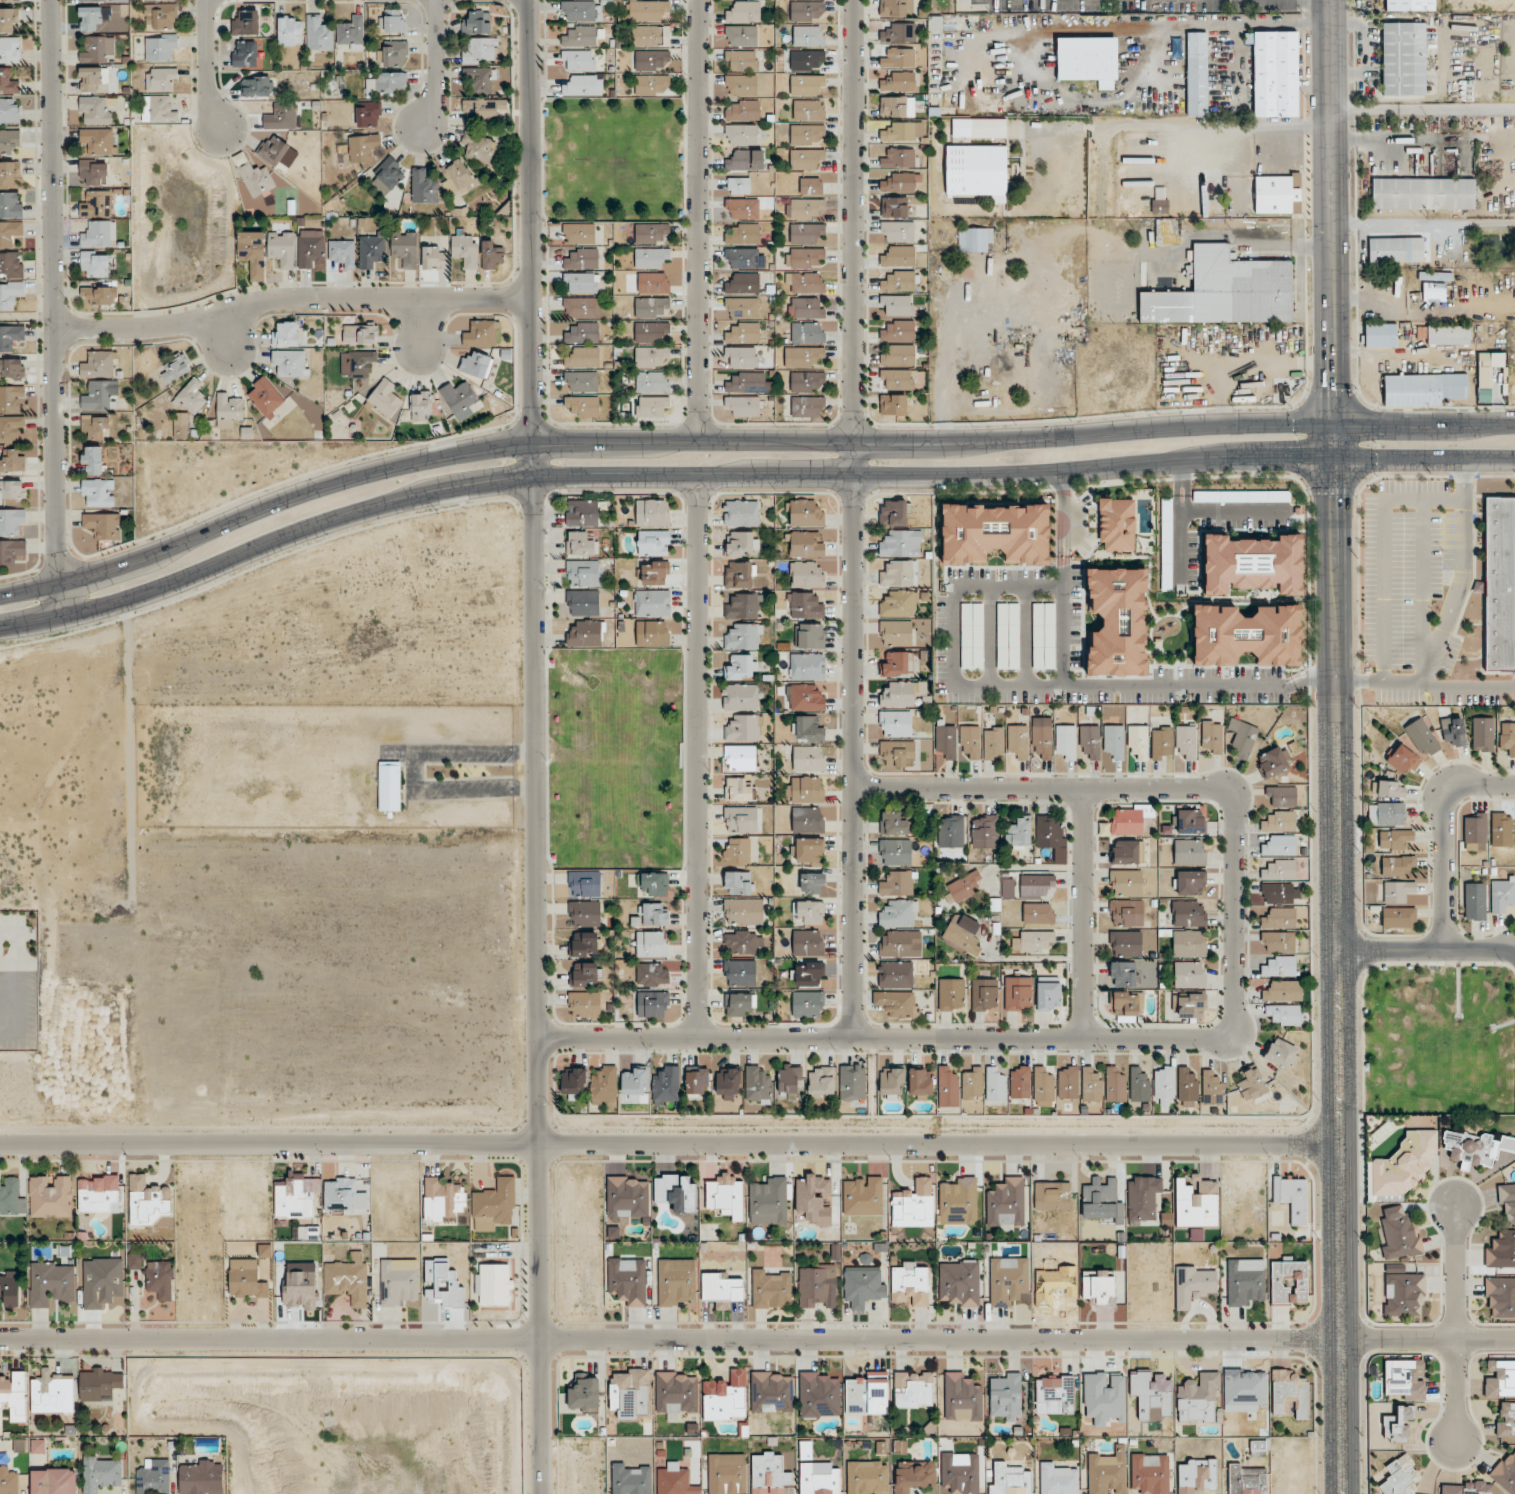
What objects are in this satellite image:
building: (10, 0)
building: (95, 0)
road: (1312, 1)
building: (1409, 5)
building: (896, 8)
building: (648, 10)
building: (581, 11)
building: (807, 11)
building: (744, 12)
building: (160, 16)
building: (90, 18)
building: (8, 19)
building: (392, 21)
building: (244, 22)
building: (478, 23)
building: (934, 23)
building: (290, 30)
building: (351, 32)
building: (318, 33)
building: (899, 33)
building: (740, 35)
building: (581, 36)
building: (651, 36)
building: (809, 36)
building: (161, 47)
building: (1176, 47)
building: (97, 49)
building: (9, 50)
building: (479, 51)
building: (244, 53)
building: (394, 53)
building: (898, 58)
building: (1404, 58)
building: (580, 60)
building: (651, 60)
building: (741, 60)
building: (807, 60)
building: (1088, 60)
road: (209, 65)
road: (438, 65)
building: (1197, 73)
building: (1276, 73)
building: (93, 79)
building: (161, 79)
building: (481, 79)
building: (7, 82)
building: (386, 82)
building: (899, 82)
building: (651, 84)
building: (740, 85)
building: (807, 85)
building: (260, 86)
building: (581, 86)
building: (896, 106)
road: (1421, 108)
building: (159, 109)
building: (482, 109)
building: (809, 109)
building: (9, 110)
building: (95, 110)
building: (744, 111)
building: (367, 114)
building: (281, 117)
road: (1252, 125)
building: (979, 128)
building: (903, 132)
building: (740, 134)
building: (807, 134)
road: (1390, 139)
building: (9, 140)
building: (98, 140)
building: (363, 146)
building: (477, 147)
building: (273, 149)
building: (898, 158)
park: (612, 159)
building: (806, 159)
building: (746, 160)
building: (977, 171)
building: (93, 172)
building: (10, 173)
building: (387, 176)
building: (457, 177)
building: (256, 179)
building: (901, 182)
building: (738, 185)
building: (423, 186)
building: (810, 186)
building: (1277, 193)
building: (1423, 193)
building: (11, 204)
building: (96, 204)
building: (894, 206)
building: (1159, 206)
building: (742, 208)
building: (803, 208)
road: (698, 221)
building: (897, 231)
building: (650, 232)
building: (10, 233)
building: (578, 233)
building: (807, 233)
building: (99, 234)
building: (743, 234)
building: (975, 239)
building: (310, 247)
building: (404, 248)
building: (281, 249)
building: (371, 250)
building: (465, 250)
building: (1396, 250)
building: (252, 253)
building: (342, 253)
building: (491, 256)
building: (434, 257)
building: (650, 257)
building: (899, 257)
building: (744, 258)
building: (805, 258)
building: (582, 259)
building: (94, 263)
building: (11, 264)
building: (1434, 275)
building: (899, 281)
building: (653, 282)
building: (805, 282)
building: (580, 283)
building: (743, 283)
building: (1225, 291)
building: (1434, 292)
building: (10, 294)
building: (98, 294)
road: (292, 300)
building: (897, 305)
building: (649, 306)
road: (55, 308)
building: (581, 308)
building: (742, 308)
building: (807, 308)
building: (899, 331)
building: (649, 332)
building: (807, 332)
building: (359, 333)
building: (582, 333)
building: (743, 333)
building: (286, 334)
building: (480, 334)
building: (1448, 334)
building: (1380, 335)
building: (10, 337)
building: (899, 355)
building: (649, 356)
building: (742, 356)
building: (805, 356)
building: (583, 357)
building: (291, 363)
building: (357, 363)
building: (98, 364)
building: (476, 364)
building: (12, 368)
building: (899, 379)
building: (581, 381)
building: (652, 381)
building: (805, 381)
building: (747, 382)
traffic signals: (1332, 387)
building: (1423, 388)
building: (1483, 390)
building: (100, 395)
building: (192, 397)
building: (265, 397)
building: (10, 398)
building: (384, 399)
building: (460, 399)
building: (893, 404)
building: (583, 405)
building: (744, 405)
building: (420, 406)
building: (652, 406)
building: (807, 406)
building: (229, 409)
traffic signals: (1380, 423)
building: (180, 425)
building: (10, 427)
building: (95, 427)
road: (745, 442)
traffic signals: (1288, 457)
building: (13, 460)
building: (92, 460)
road: (746, 478)
building: (12, 489)
building: (97, 492)
traffic signals: (1333, 498)
road: (1063, 507)
building: (582, 512)
building: (652, 512)
building: (894, 512)
building: (741, 513)
building: (803, 513)
road: (852, 519)
building: (11, 520)
building: (103, 525)
building: (582, 543)
building: (653, 543)
building: (741, 543)
building: (901, 543)
building: (805, 544)
road: (1061, 548)
road: (1066, 548)
road: (1383, 549)
building: (11, 552)
road: (1061, 561)
road: (1065, 561)
road: (533, 572)
building: (654, 572)
road: (1462, 572)
building: (583, 573)
building: (898, 573)
building: (739, 574)
building: (806, 574)
road: (960, 588)
road: (1422, 589)
building: (582, 603)
building: (652, 603)
building: (899, 604)
building: (805, 605)
building: (744, 606)
road: (1064, 626)
building: (652, 633)
building: (895, 633)
building: (585, 634)
building: (811, 636)
road: (990, 636)
road: (1026, 636)
building: (744, 637)
building: (897, 663)
building: (807, 666)
building: (741, 667)
road: (1312, 675)
road: (1425, 681)
road: (1123, 685)
building: (899, 694)
building: (740, 697)
building: (804, 698)
building: (895, 724)
building: (744, 728)
building: (807, 729)
building: (1453, 730)
building: (1483, 735)
building: (1211, 737)
building: (1507, 737)
building: (1243, 738)
building: (1422, 738)
building: (946, 740)
building: (970, 740)
building: (1018, 740)
building: (1042, 740)
building: (1090, 740)
building: (1114, 740)
building: (1138, 740)
building: (1066, 741)
building: (1186, 741)
building: (993, 743)
building: (1161, 743)
road: (1335, 746)
road: (396, 748)
road: (474, 749)
building: (897, 753)
park: (617, 758)
road: (699, 758)
building: (739, 758)
building: (808, 758)
building: (1402, 760)
building: (1272, 761)
road: (413, 771)
building: (389, 786)
road: (1041, 788)
building: (739, 789)
building: (805, 789)
building: (1391, 789)
road: (473, 793)
building: (1282, 796)
building: (1386, 813)
building: (740, 820)
building: (807, 820)
building: (1129, 820)
building: (1190, 821)
building: (1280, 822)
building: (893, 824)
building: (1501, 829)
building: (1474, 830)
building: (950, 831)
building: (983, 832)
building: (1049, 832)
building: (1018, 833)
road: (1442, 833)
building: (1394, 839)
building: (1281, 845)
building: (807, 850)
building: (736, 851)
building: (895, 852)
building: (1127, 852)
building: (1189, 852)
building: (1397, 865)
building: (1280, 870)
building: (1189, 882)
building: (584, 883)
building: (737, 883)
building: (812, 883)
building: (1125, 883)
building: (654, 884)
building: (897, 884)
building: (1037, 886)
building: (962, 888)
building: (1397, 891)
building: (1279, 893)
building: (1502, 894)
building: (1475, 901)
building: (743, 912)
building: (808, 912)
building: (584, 913)
building: (1038, 913)
road: (1080, 913)
building: (1126, 913)
building: (1189, 913)
road: (1232, 913)
building: (653, 914)
building: (898, 914)
building: (1399, 917)
building: (1280, 918)
road: (14, 933)
building: (963, 938)
building: (1032, 941)
building: (1278, 941)
building: (743, 942)
building: (808, 942)
building: (584, 943)
building: (652, 943)
building: (1125, 943)
building: (1189, 943)
building: (900, 944)
road: (16, 949)
road: (1426, 953)
road: (16, 965)
building: (1280, 966)
building: (739, 973)
building: (586, 974)
building: (651, 974)
building: (807, 974)
building: (1123, 974)
building: (1189, 974)
building: (895, 975)
building: (1283, 991)
building: (1018, 993)
building: (1048, 993)
building: (951, 994)
building: (984, 995)
building: (896, 1003)
building: (1127, 1003)
building: (739, 1004)
building: (807, 1004)
building: (584, 1005)
building: (652, 1005)
building: (1190, 1005)
building: (1284, 1014)
park: (1435, 1037)
road: (884, 1038)
building: (1281, 1052)
building: (789, 1078)
building: (1019, 1081)
building: (696, 1082)
building: (821, 1082)
building: (1068, 1082)
building: (573, 1083)
building: (633, 1083)
building: (727, 1083)
building: (891, 1083)
building: (971, 1083)
building: (920, 1084)
building: (1114, 1084)
building: (666, 1085)
building: (853, 1085)
building: (995, 1085)
building: (1091, 1085)
building: (1163, 1085)
building: (1253, 1085)
building: (604, 1086)
building: (757, 1086)
building: (1139, 1086)
building: (1187, 1086)
building: (947, 1088)
building: (1043, 1088)
building: (1211, 1088)
road: (670, 1145)
building: (1475, 1148)
building: (1403, 1166)
building: (675, 1192)
building: (98, 1194)
building: (344, 1195)
building: (862, 1195)
building: (1052, 1195)
building: (51, 1196)
building: (627, 1196)
building: (725, 1196)
building: (1142, 1196)
building: (11, 1197)
building: (1292, 1197)
building: (814, 1198)
building: (292, 1199)
building: (148, 1200)
building: (442, 1200)
building: (1101, 1200)
building: (768, 1201)
building: (1006, 1203)
building: (493, 1204)
building: (913, 1204)
building: (1196, 1204)
building: (1399, 1233)
building: (1501, 1250)
building: (134, 1261)
building: (159, 1279)
building: (348, 1279)
building: (246, 1280)
building: (627, 1280)
building: (1007, 1280)
building: (398, 1281)
building: (1245, 1281)
building: (51, 1282)
building: (675, 1282)
building: (959, 1282)
building: (494, 1285)
building: (817, 1286)
building: (910, 1286)
building: (863, 1287)
building: (771, 1288)
building: (1099, 1288)
building: (10, 1289)
building: (721, 1289)
building: (1403, 1292)
building: (1499, 1298)
road: (538, 1319)
road: (1457, 1326)
road: (757, 1341)
building: (1403, 1379)
building: (1500, 1379)
building: (99, 1383)
building: (913, 1390)
building: (676, 1391)
building: (772, 1391)
building: (1289, 1391)
building: (52, 1394)
building: (584, 1394)
building: (868, 1394)
building: (1054, 1394)
building: (818, 1395)
building: (725, 1397)
building: (1006, 1397)
building: (962, 1398)
building: (1198, 1399)
building: (1505, 1419)
building: (1399, 1425)
building: (37, 1446)
building: (1259, 1447)
building: (805, 1449)
building: (1106, 1471)
building: (960, 1472)
building: (101, 1473)
building: (1150, 1473)
building: (1506, 1473)
building: (727, 1474)
building: (913, 1476)
building: (1196, 1476)
building: (1397, 1476)
building: (153, 1477)
building: (202, 1477)
building: (867, 1477)
building: (631, 1478)
building: (8, 1479)
building: (819, 1479)
building: (1008, 1479)
building: (1057, 1479)
building: (1247, 1479)
building: (673, 1480)
building: (54, 1481)
building: (1467, 1488)

